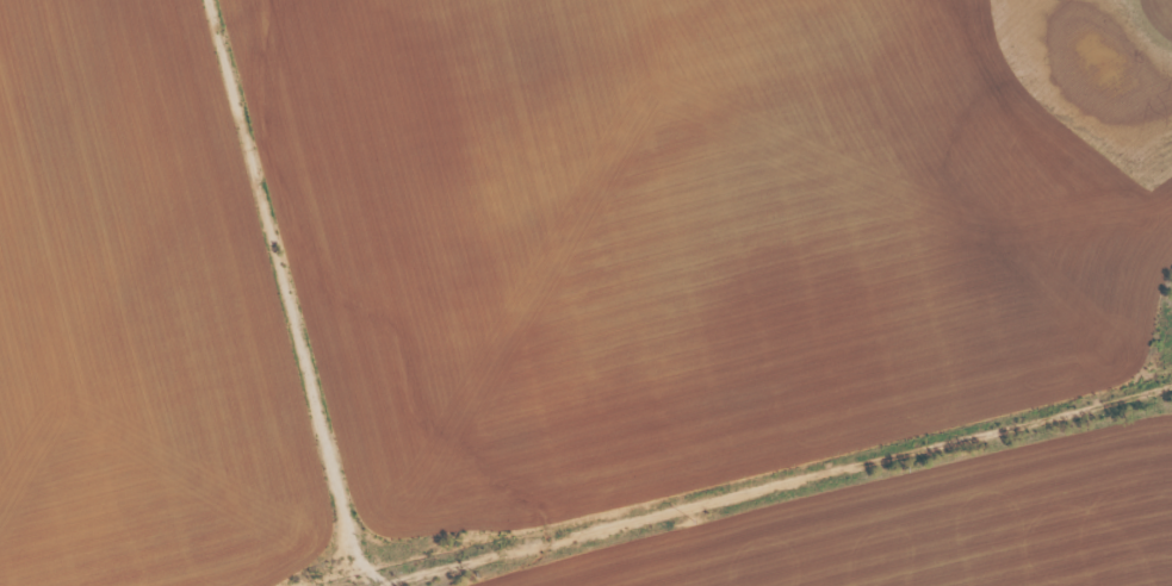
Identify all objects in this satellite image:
road: (786, 481)

